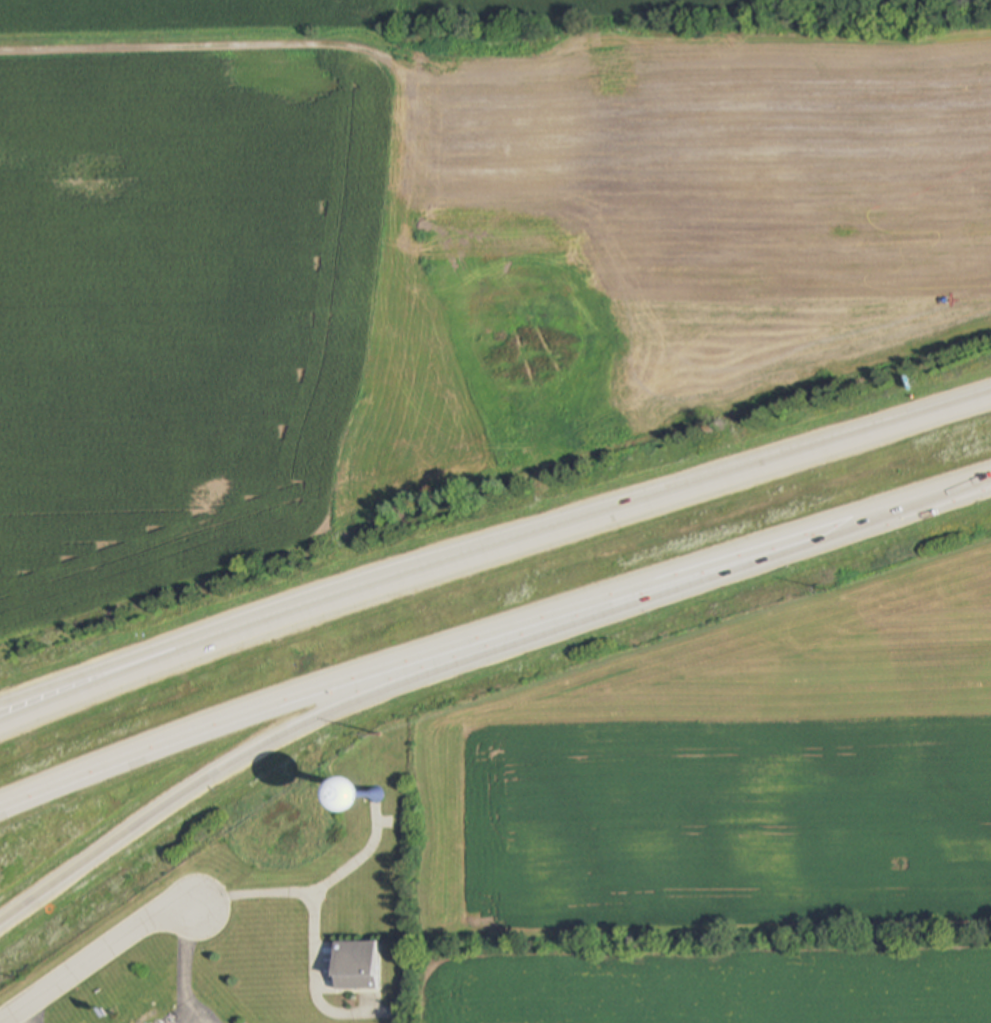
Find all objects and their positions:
road: (321, 47)
road: (491, 553)
road: (491, 640)
road: (235, 769)
building: (341, 795)
water tower: (376, 801)
road: (305, 898)
road: (97, 954)
building: (356, 966)

